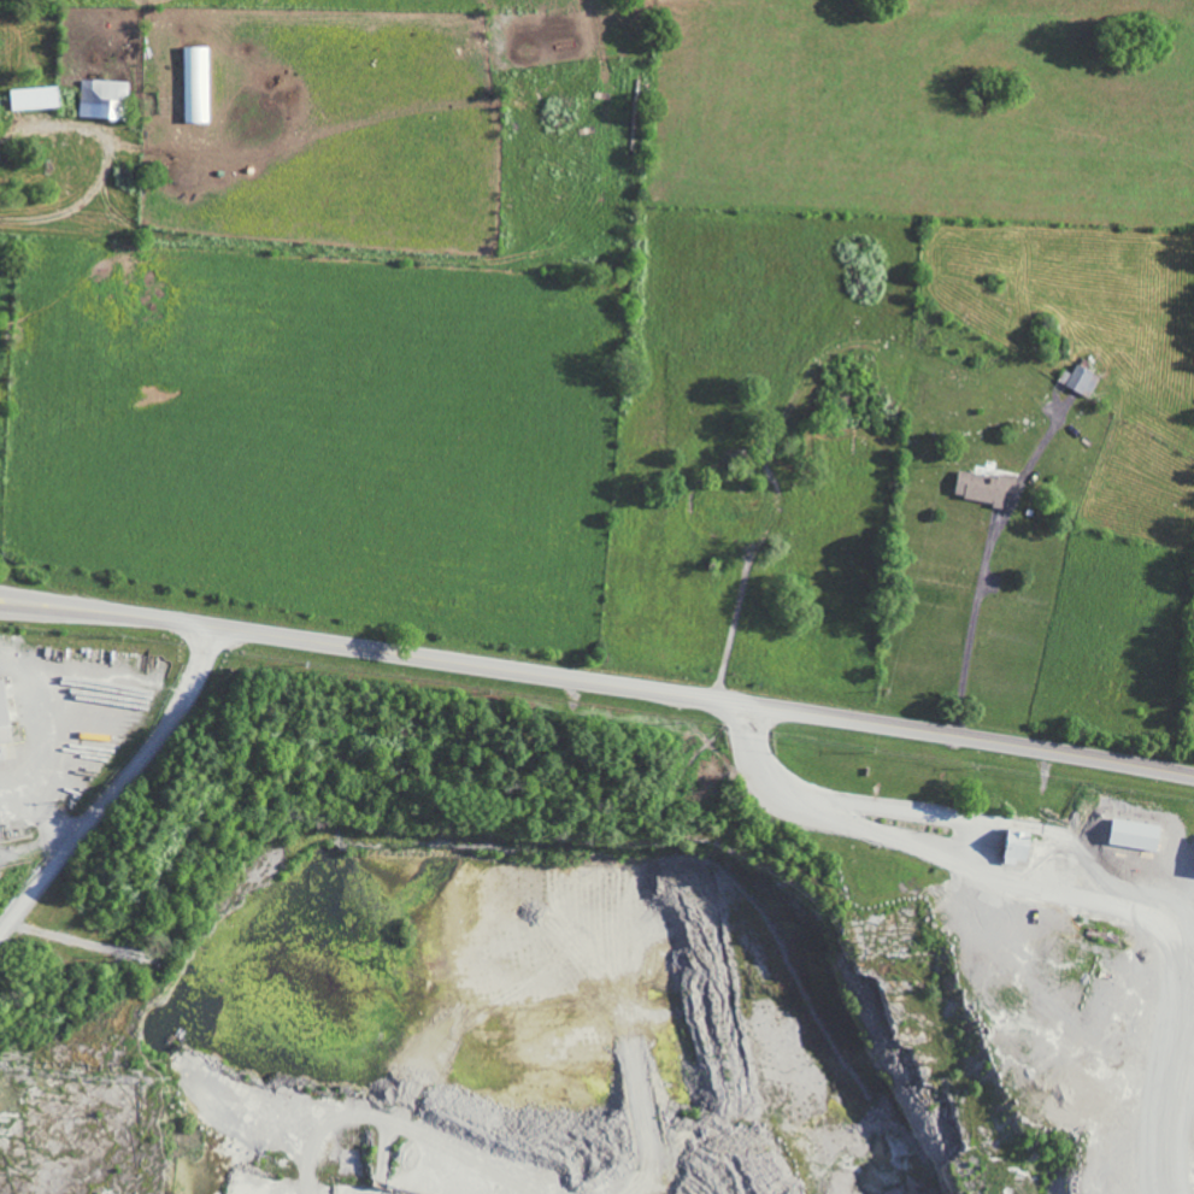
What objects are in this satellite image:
building: (196, 84)
building: (34, 98)
building: (101, 98)
road: (106, 161)
building: (1080, 380)
building: (983, 487)
road: (983, 565)
road: (598, 678)
building: (2, 716)
road: (761, 776)
road: (118, 783)
road: (966, 835)
building: (1017, 845)
road: (1101, 902)
quarry: (559, 948)

